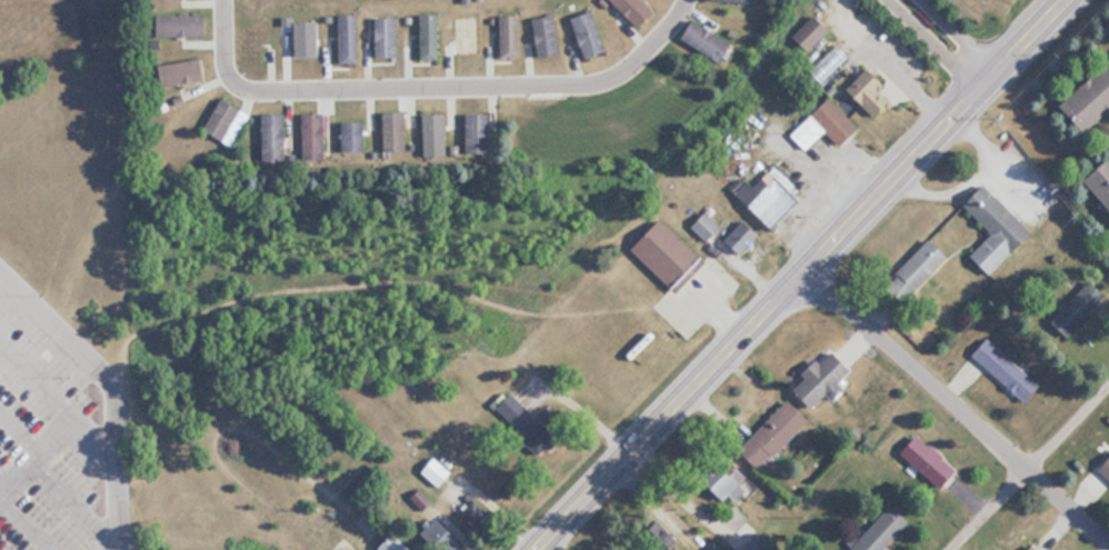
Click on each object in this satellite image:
building: (746, 0)
building: (636, 10)
building: (183, 26)
building: (812, 31)
road: (958, 33)
building: (467, 34)
building: (589, 34)
building: (429, 37)
building: (511, 37)
building: (547, 37)
building: (350, 39)
building: (707, 39)
road: (935, 41)
building: (829, 61)
building: (184, 72)
road: (432, 87)
building: (871, 91)
building: (1089, 101)
building: (227, 121)
building: (827, 124)
building: (394, 131)
building: (477, 133)
building: (273, 136)
building: (313, 136)
building: (352, 136)
building: (433, 136)
building: (1101, 181)
building: (997, 228)
building: (743, 234)
building: (668, 252)
building: (921, 266)
road: (796, 276)
building: (1079, 307)
building: (1007, 369)
building: (825, 378)
road: (36, 382)
road: (112, 383)
road: (955, 409)
road: (22, 421)
building: (527, 422)
road: (1065, 424)
building: (776, 434)
road: (53, 437)
building: (929, 461)
building: (1106, 468)
building: (436, 472)
road: (6, 478)
road: (72, 500)
building: (480, 508)
road: (980, 509)
road: (32, 520)
building: (882, 529)
building: (394, 543)
building: (715, 547)

